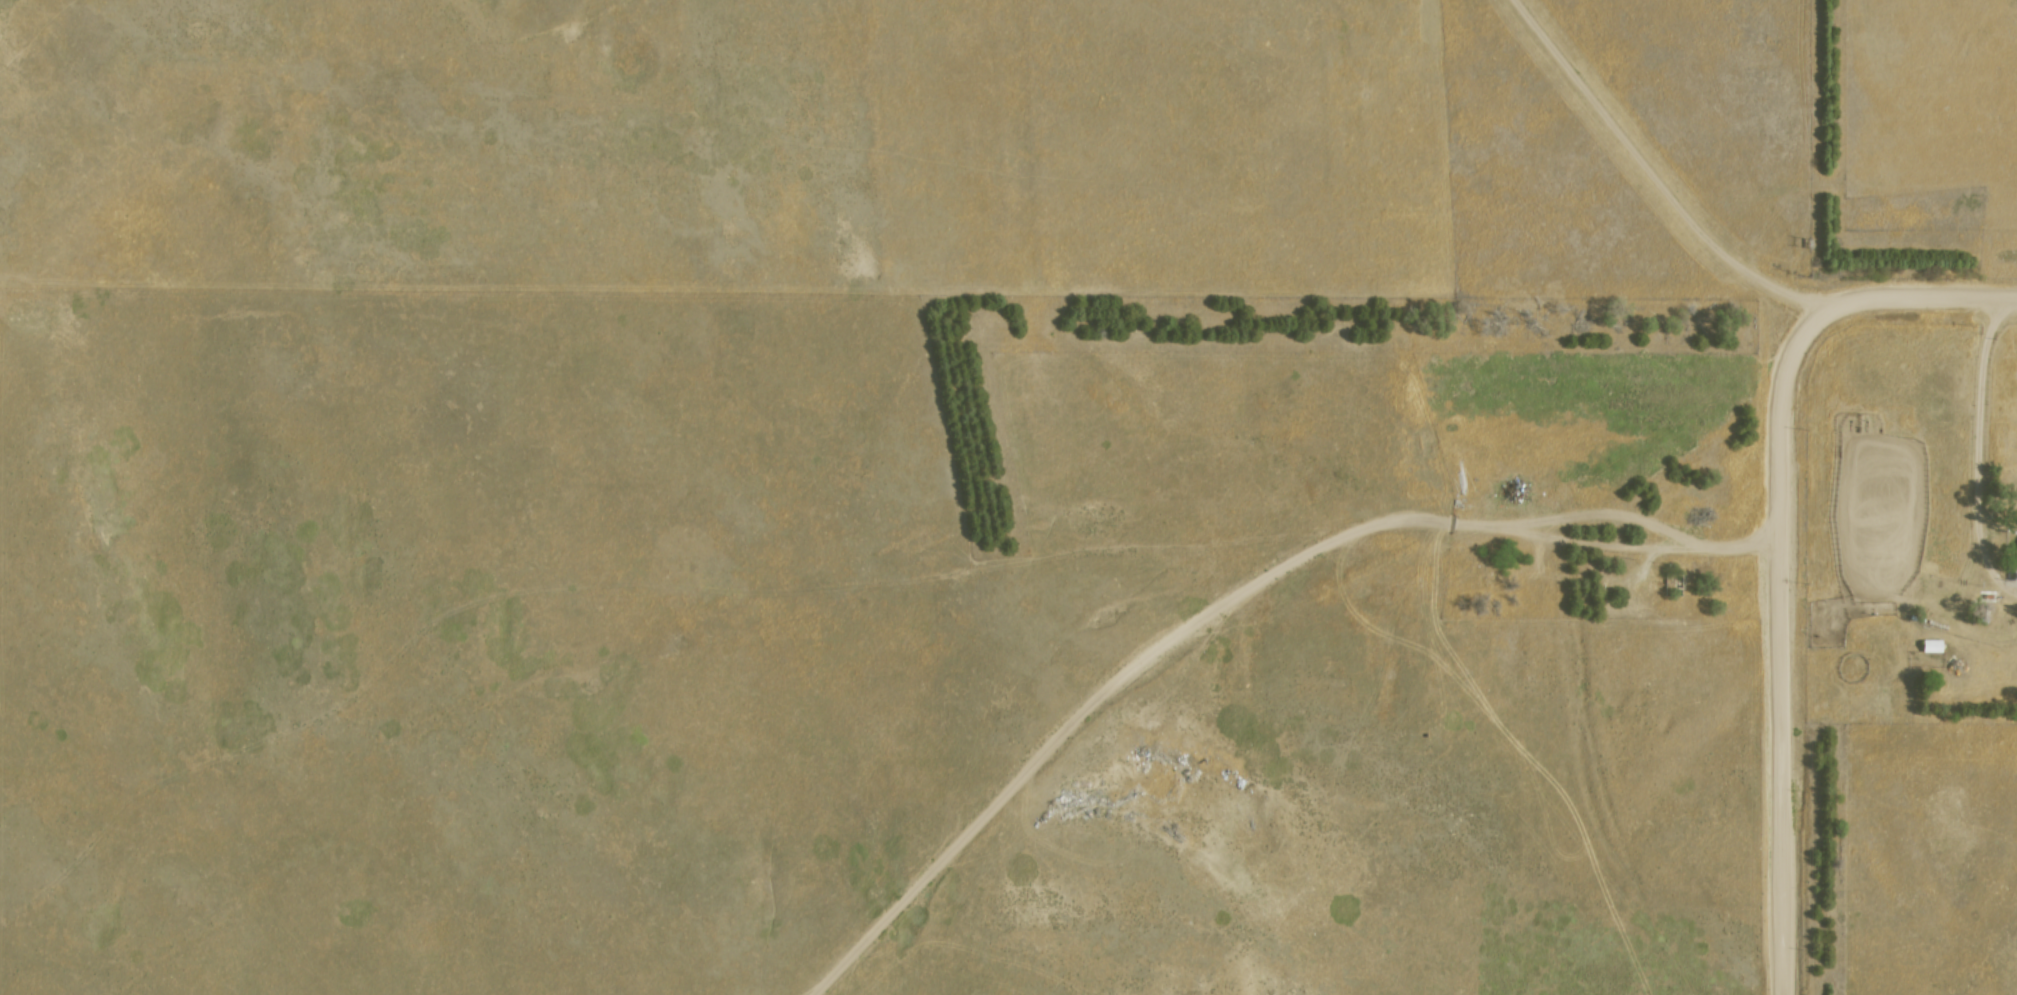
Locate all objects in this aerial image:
road: (1910, 294)
road: (1972, 452)
road: (1222, 600)
building: (1929, 643)
road: (1774, 652)

